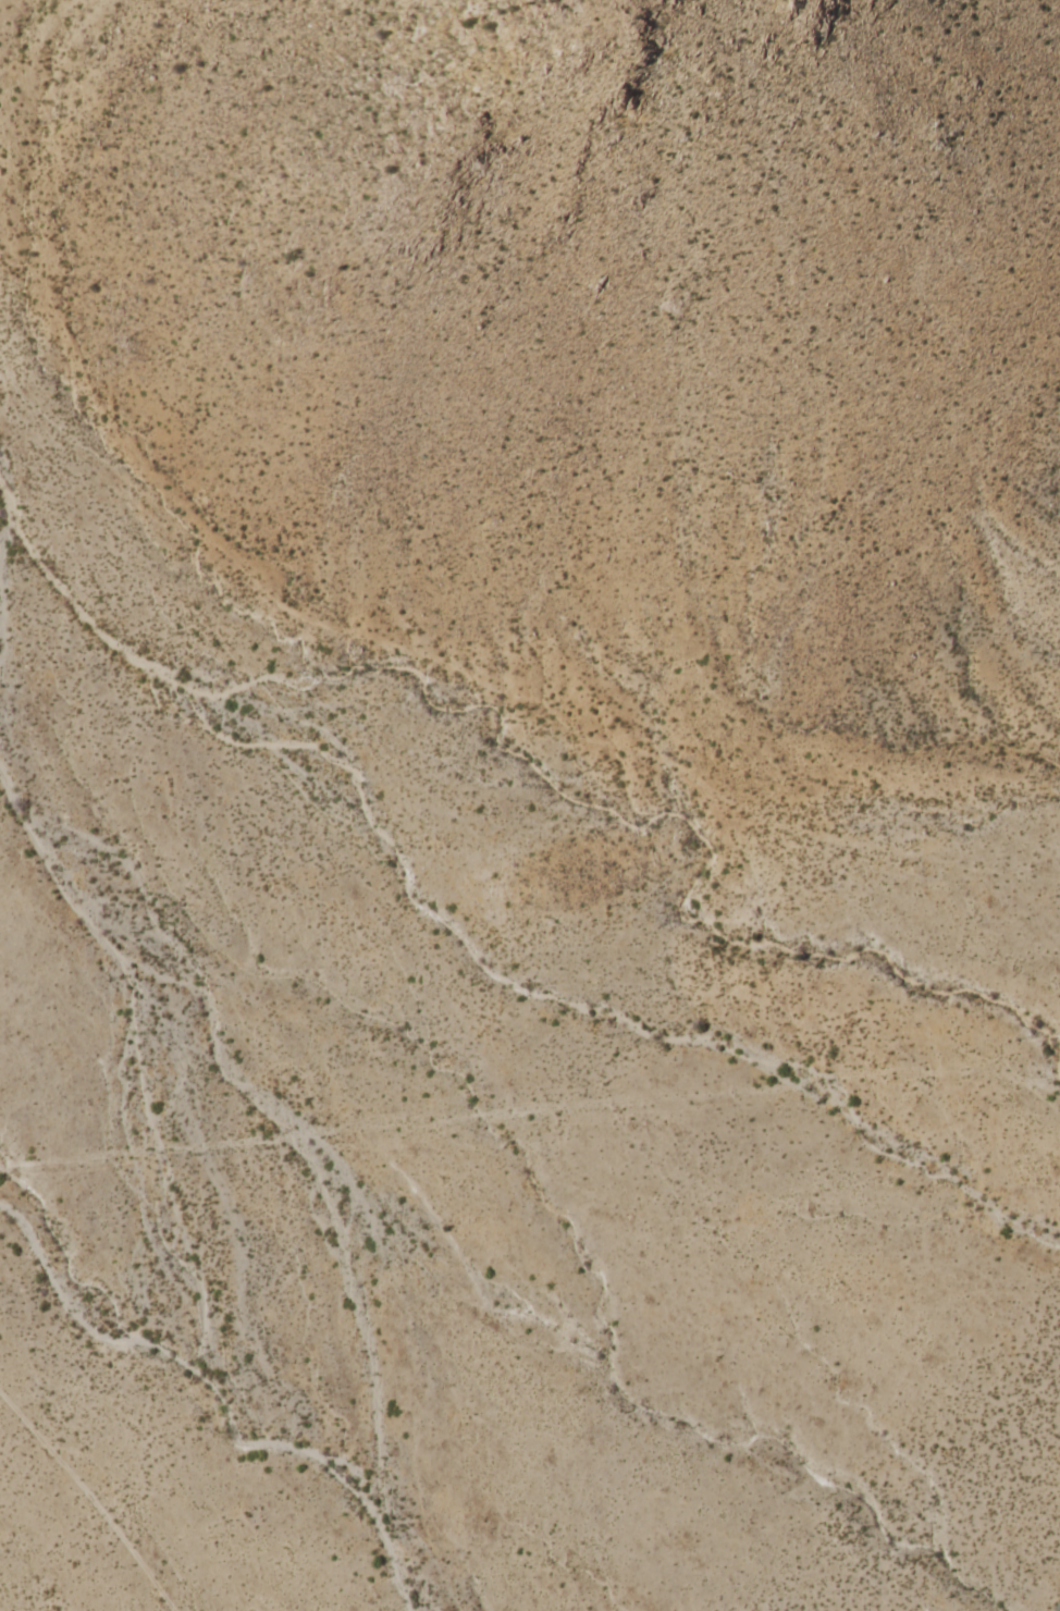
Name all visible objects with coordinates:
road: (90, 1498)

